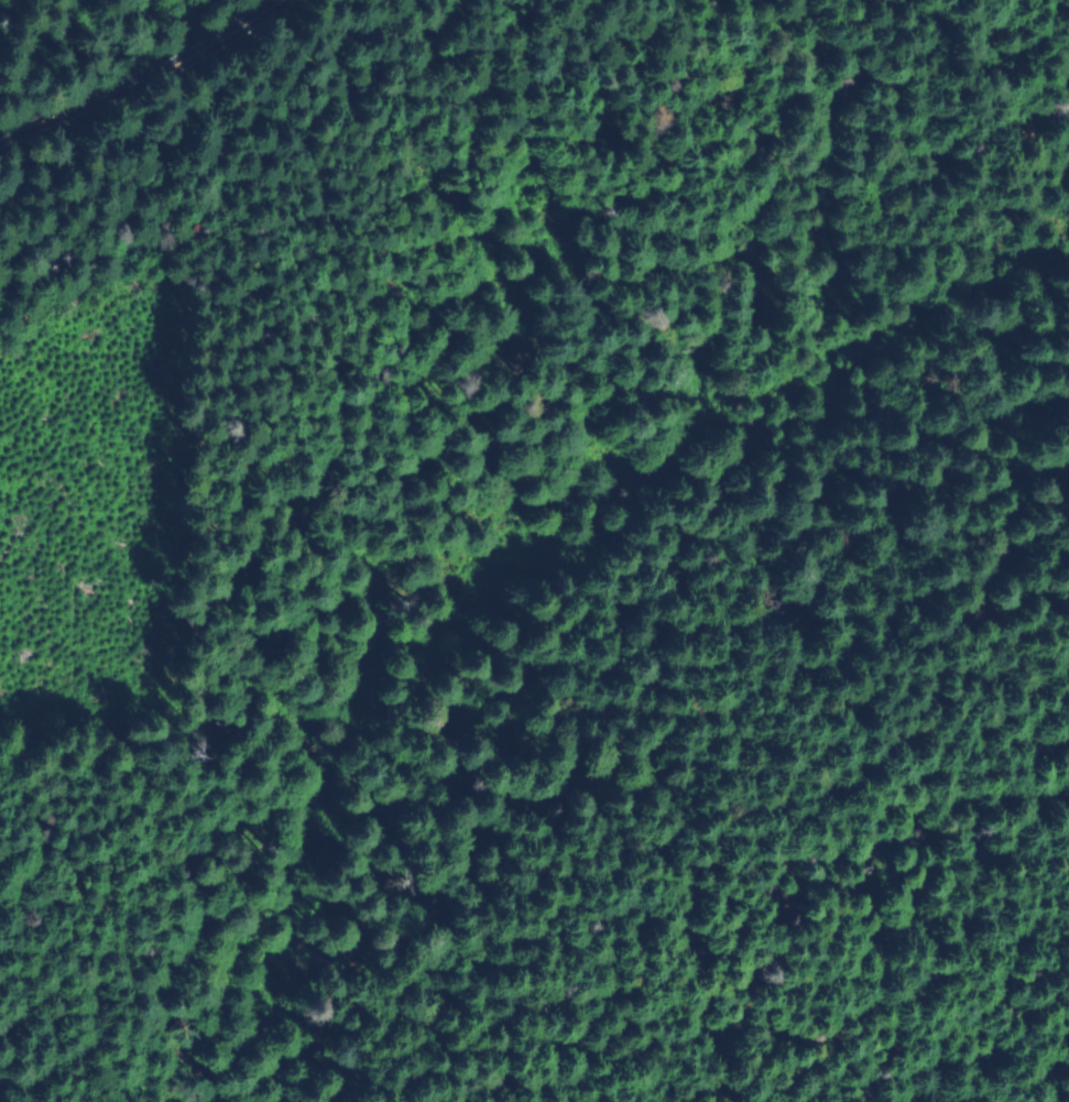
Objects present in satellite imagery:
road: (159, 83)
road: (207, 553)

